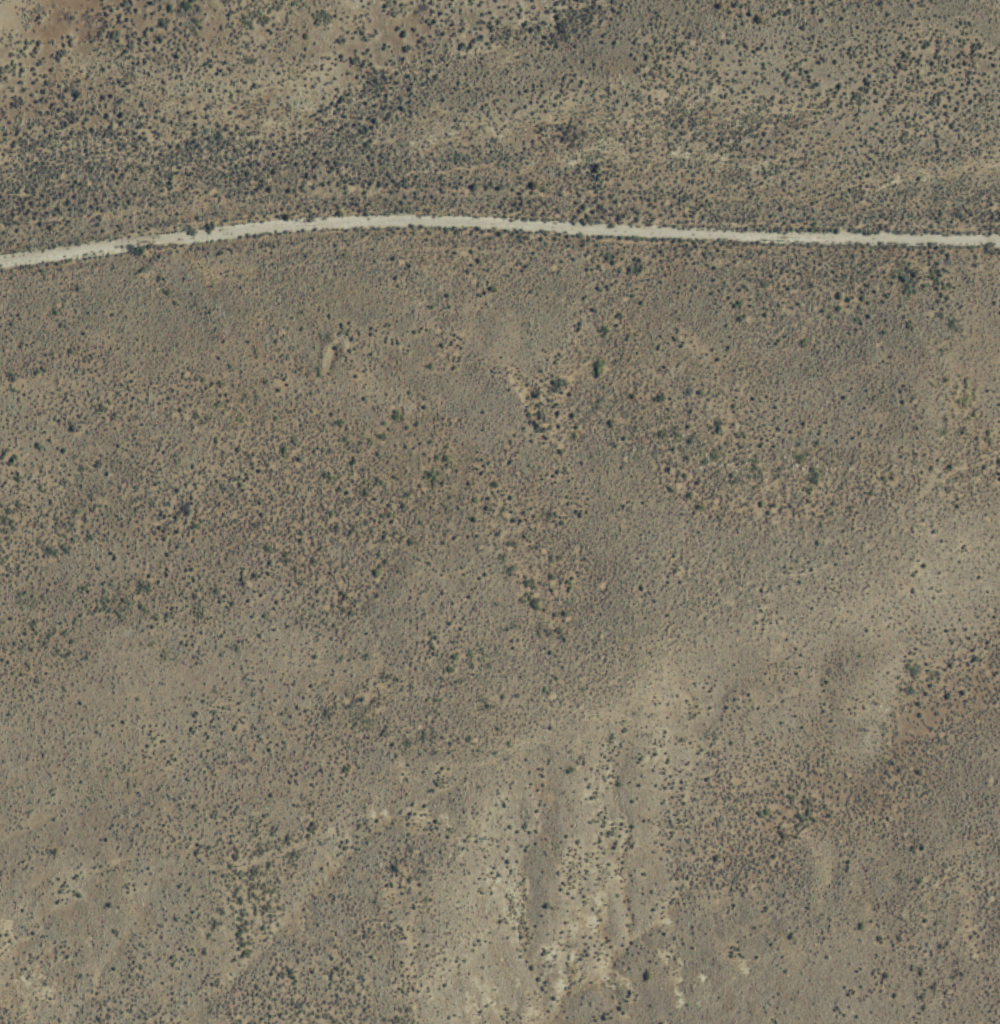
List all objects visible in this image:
road: (498, 232)

